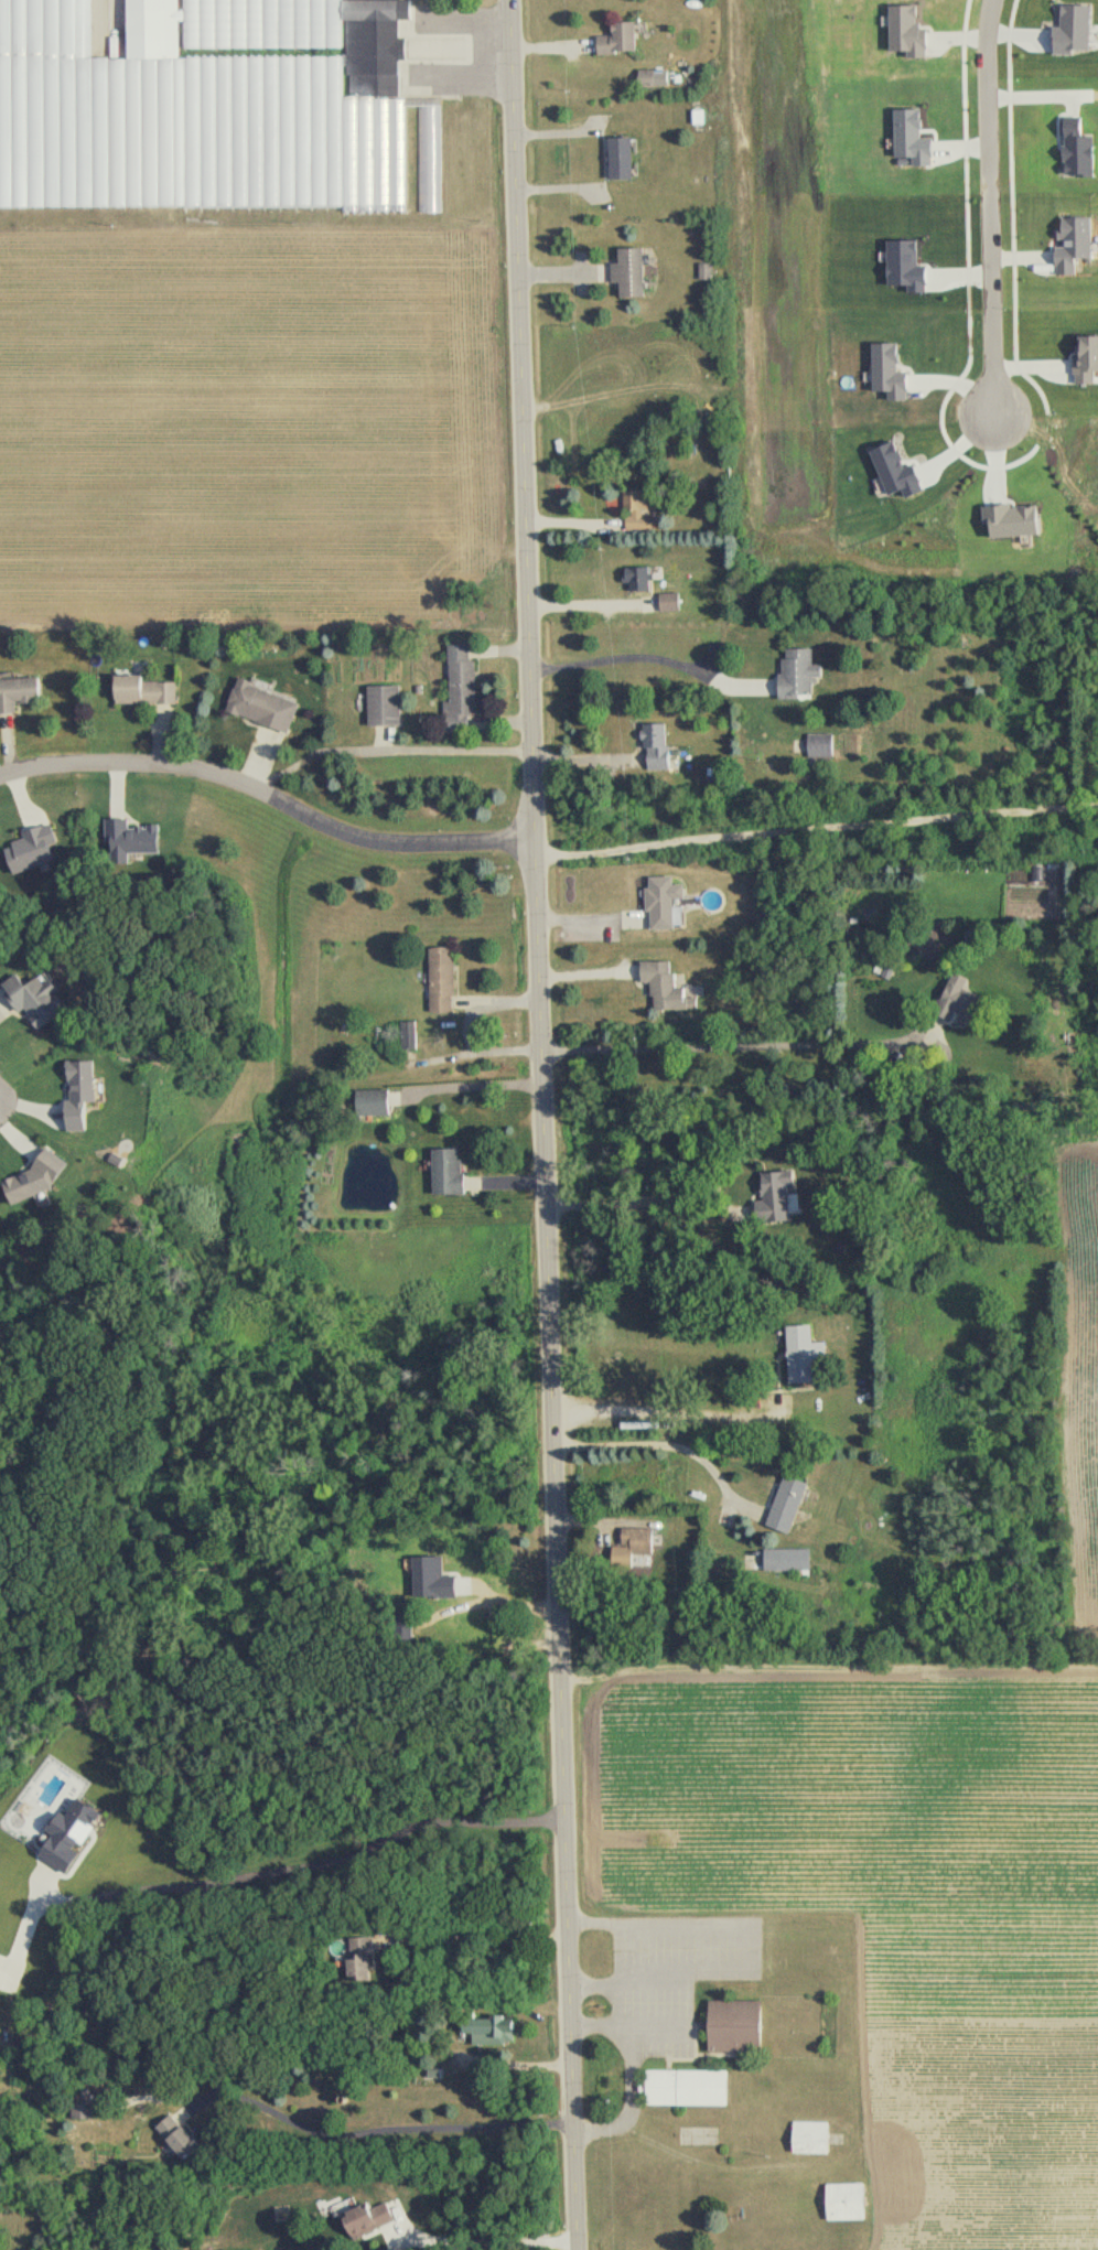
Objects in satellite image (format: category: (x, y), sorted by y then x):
building: (618, 39)
building: (216, 110)
building: (620, 159)
road: (995, 208)
building: (628, 272)
building: (637, 510)
building: (637, 579)
building: (669, 602)
road: (586, 609)
road: (652, 657)
building: (797, 672)
building: (142, 690)
building: (460, 690)
building: (18, 693)
building: (383, 706)
building: (261, 707)
building: (820, 745)
building: (656, 747)
road: (390, 750)
road: (269, 793)
road: (816, 829)
building: (663, 902)
building: (441, 981)
building: (665, 987)
building: (34, 999)
building: (957, 1002)
road: (469, 1030)
building: (408, 1035)
road: (760, 1046)
road: (471, 1088)
building: (372, 1102)
road: (545, 1124)
building: (446, 1172)
road: (652, 1197)
building: (775, 1198)
building: (801, 1355)
road: (669, 1409)
road: (669, 1446)
building: (785, 1504)
building: (637, 1542)
building: (787, 1559)
building: (403, 1627)
building: (483, 1637)
road: (311, 1873)
road: (661, 1924)
road: (475, 1935)
building: (358, 1959)
road: (658, 1972)
road: (629, 2027)
building: (734, 2027)
building: (488, 2031)
building: (686, 2088)
road: (633, 2100)
building: (82, 2111)
road: (379, 2130)
building: (176, 2138)
building: (809, 2138)
building: (844, 2200)
building: (367, 2218)
road: (493, 2243)

